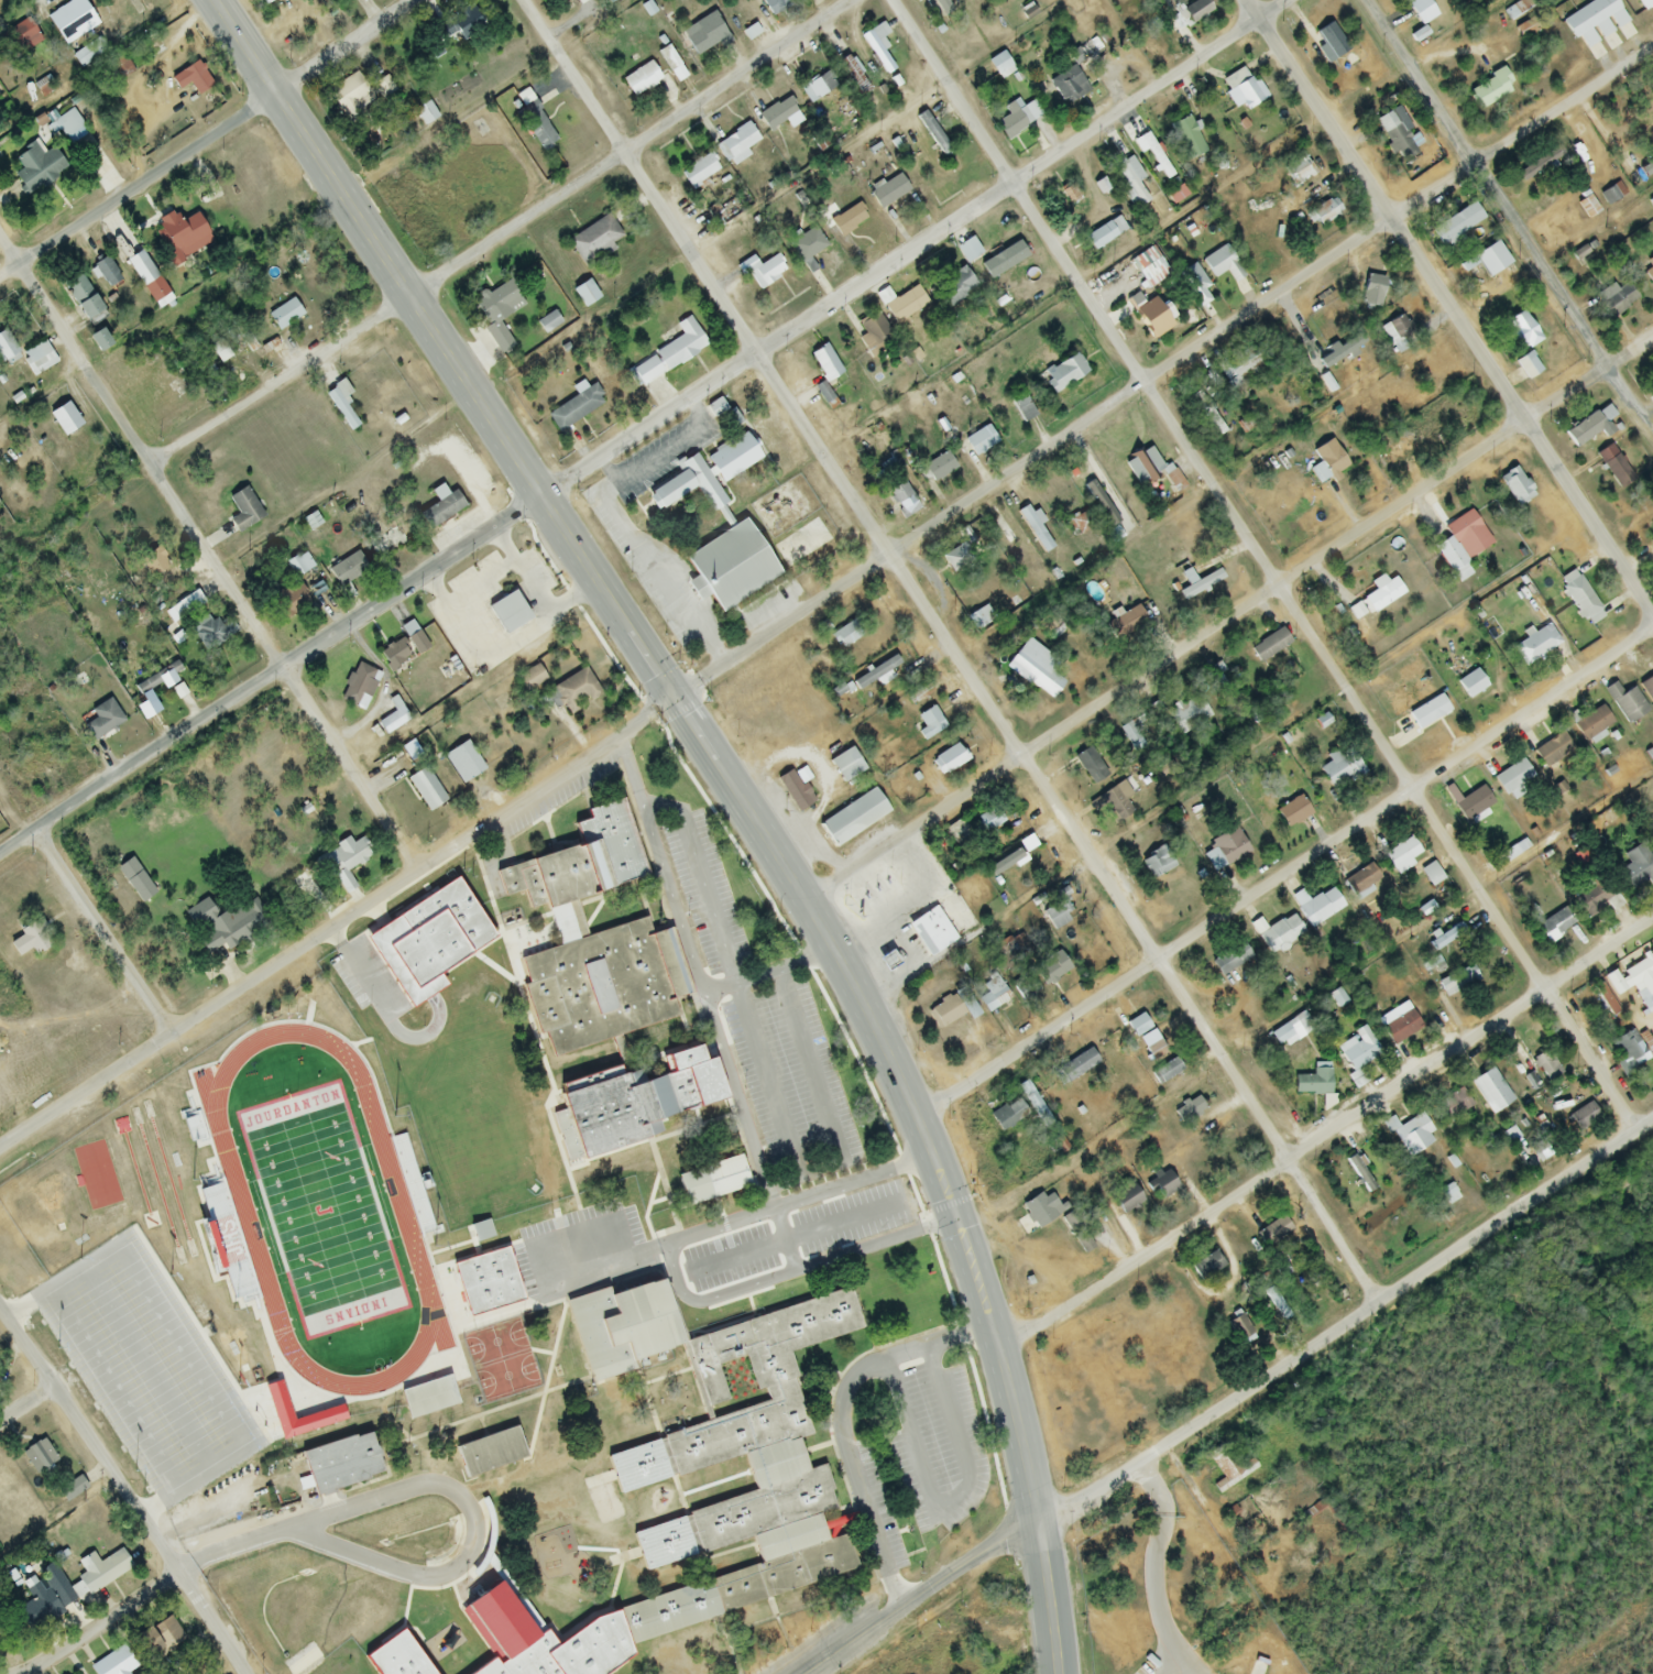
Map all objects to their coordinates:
building: (265, 1)
building: (941, 7)
building: (1420, 10)
building: (1193, 12)
building: (70, 21)
building: (23, 35)
building: (1331, 41)
building: (877, 44)
building: (999, 66)
building: (675, 69)
building: (641, 79)
building: (1069, 86)
building: (818, 87)
building: (1490, 89)
building: (1246, 94)
building: (423, 111)
building: (780, 116)
building: (1009, 119)
building: (0, 123)
building: (65, 124)
building: (536, 127)
building: (1632, 128)
building: (1186, 138)
building: (1395, 138)
road: (207, 141)
building: (737, 144)
building: (1152, 154)
building: (1539, 164)
building: (33, 166)
building: (1128, 171)
building: (1299, 171)
building: (699, 172)
building: (888, 192)
building: (1611, 194)
building: (1174, 195)
building: (1588, 208)
building: (1323, 212)
building: (843, 220)
road: (1510, 222)
building: (1456, 225)
road: (501, 234)
building: (1102, 234)
building: (593, 241)
building: (807, 247)
building: (986, 258)
building: (1465, 261)
building: (1147, 264)
building: (1223, 264)
building: (769, 269)
building: (1649, 274)
building: (145, 277)
building: (1195, 286)
building: (954, 287)
building: (1371, 291)
building: (584, 294)
building: (1617, 299)
building: (83, 300)
building: (905, 306)
road: (1452, 307)
building: (496, 313)
building: (284, 315)
building: (1151, 319)
building: (547, 322)
building: (1395, 329)
building: (873, 330)
building: (1521, 331)
building: (677, 346)
building: (37, 358)
building: (824, 363)
building: (1523, 369)
building: (1063, 373)
road: (42, 395)
building: (825, 396)
building: (76, 402)
building: (1204, 402)
road: (1334, 402)
building: (574, 408)
building: (340, 409)
building: (1023, 411)
building: (55, 419)
building: (1588, 426)
road: (643, 428)
building: (979, 440)
building: (1397, 451)
road: (667, 458)
building: (731, 458)
building: (1328, 458)
building: (1613, 466)
building: (938, 468)
building: (1150, 469)
building: (687, 486)
building: (1515, 486)
building: (1099, 504)
building: (441, 510)
building: (1077, 523)
building: (1035, 529)
building: (1460, 543)
road: (207, 554)
building: (956, 559)
road: (1260, 562)
building: (157, 564)
building: (299, 565)
building: (725, 565)
building: (346, 569)
road: (661, 572)
building: (1196, 582)
building: (1382, 595)
road: (825, 598)
building: (289, 601)
building: (1581, 601)
building: (504, 610)
road: (1228, 616)
building: (201, 623)
building: (1125, 625)
building: (1053, 627)
building: (845, 634)
building: (414, 638)
building: (1269, 646)
building: (1532, 647)
road: (948, 648)
building: (396, 653)
building: (1033, 669)
building: (874, 674)
building: (530, 678)
building: (357, 687)
building: (571, 692)
building: (1625, 703)
building: (1428, 712)
building: (1187, 714)
building: (102, 720)
building: (930, 722)
building: (1591, 724)
road: (698, 730)
building: (1548, 753)
building: (948, 759)
building: (463, 763)
building: (845, 765)
building: (1340, 769)
building: (1512, 777)
building: (425, 790)
building: (793, 790)
building: (1114, 803)
building: (1473, 805)
building: (1292, 812)
building: (850, 817)
building: (985, 821)
building: (1652, 841)
building: (1225, 850)
building: (1012, 855)
building: (1401, 856)
building: (341, 858)
building: (578, 863)
building: (1156, 863)
building: (1635, 868)
road: (1285, 872)
building: (1431, 874)
building: (1360, 880)
building: (1595, 897)
building: (1320, 908)
building: (1054, 913)
road: (1436, 915)
building: (1555, 924)
building: (927, 930)
road: (978, 930)
road: (101, 931)
building: (1280, 934)
road: (883, 936)
building: (1445, 937)
building: (404, 955)
building: (1229, 959)
building: (1050, 970)
building: (1457, 982)
building: (1634, 983)
building: (602, 988)
building: (1026, 988)
building: (993, 992)
building: (1597, 1003)
building: (951, 1008)
building: (1400, 1028)
building: (1145, 1037)
building: (1357, 1051)
building: (1630, 1059)
building: (1543, 1061)
building: (1073, 1069)
building: (1313, 1082)
building: (1490, 1091)
building: (1033, 1103)
building: (1451, 1106)
building: (1189, 1110)
building: (613, 1114)
building: (1581, 1115)
road: (1326, 1128)
building: (1412, 1135)
building: (1540, 1153)
park: (111, 1180)
building: (708, 1180)
building: (1619, 1183)
building: (1127, 1201)
building: (1041, 1210)
track: (322, 1214)
building: (618, 1218)
park: (326, 1221)
building: (1272, 1233)
building: (220, 1237)
road: (738, 1260)
building: (1204, 1265)
building: (456, 1269)
road: (1345, 1320)
building: (621, 1327)
building: (1239, 1328)
building: (423, 1394)
road: (23, 1398)
road: (845, 1422)
building: (484, 1451)
building: (339, 1464)
building: (1227, 1468)
road: (122, 1490)
building: (1146, 1490)
road: (440, 1491)
building: (1112, 1534)
building: (1213, 1547)
road: (1160, 1567)
building: (97, 1572)
road: (919, 1595)
road: (1051, 1599)
building: (40, 1604)
building: (666, 1608)
building: (490, 1620)
road: (95, 1623)
park: (363, 1634)
building: (161, 1638)
building: (112, 1664)
building: (538, 1665)

